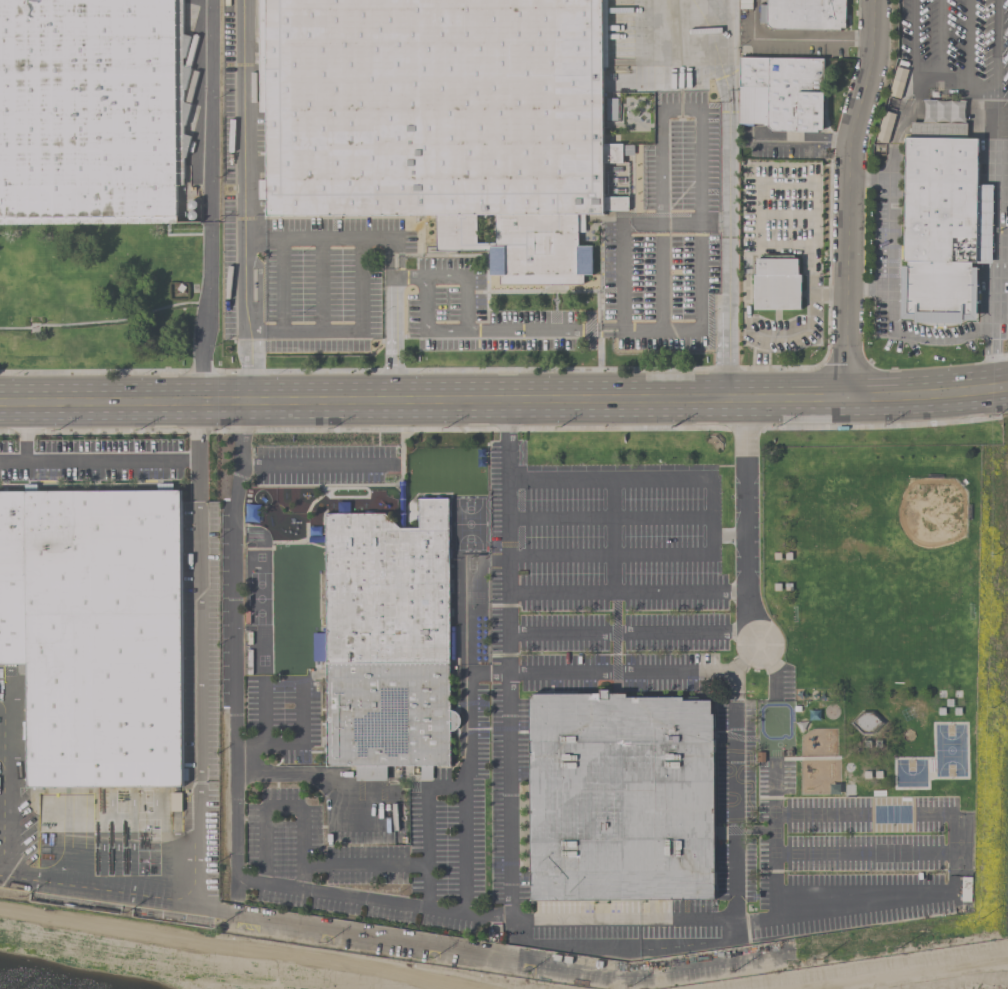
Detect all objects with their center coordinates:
road: (992, 4)
building: (805, 14)
road: (913, 40)
road: (942, 40)
road: (802, 41)
road: (969, 41)
road: (991, 46)
road: (918, 80)
building: (781, 93)
road: (993, 103)
building: (91, 111)
building: (442, 120)
road: (799, 143)
road: (700, 147)
road: (892, 160)
road: (987, 161)
road: (872, 177)
road: (999, 197)
road: (851, 198)
road: (726, 200)
road: (244, 201)
road: (208, 202)
road: (988, 221)
building: (940, 224)
road: (891, 231)
road: (394, 245)
road: (623, 260)
road: (992, 268)
road: (410, 276)
building: (776, 284)
road: (991, 326)
road: (624, 329)
road: (467, 330)
road: (526, 330)
road: (349, 332)
road: (899, 333)
road: (504, 401)
road: (197, 431)
road: (24, 432)
road: (119, 459)
road: (314, 467)
road: (711, 517)
road: (608, 518)
road: (746, 522)
road: (612, 573)
road: (626, 592)
building: (95, 633)
road: (630, 633)
building: (388, 643)
road: (619, 671)
road: (263, 713)
road: (301, 745)
road: (467, 775)
road: (339, 776)
road: (732, 777)
road: (236, 779)
road: (198, 791)
building: (620, 797)
road: (274, 805)
road: (853, 815)
road: (429, 829)
road: (863, 853)
road: (354, 864)
road: (512, 880)

